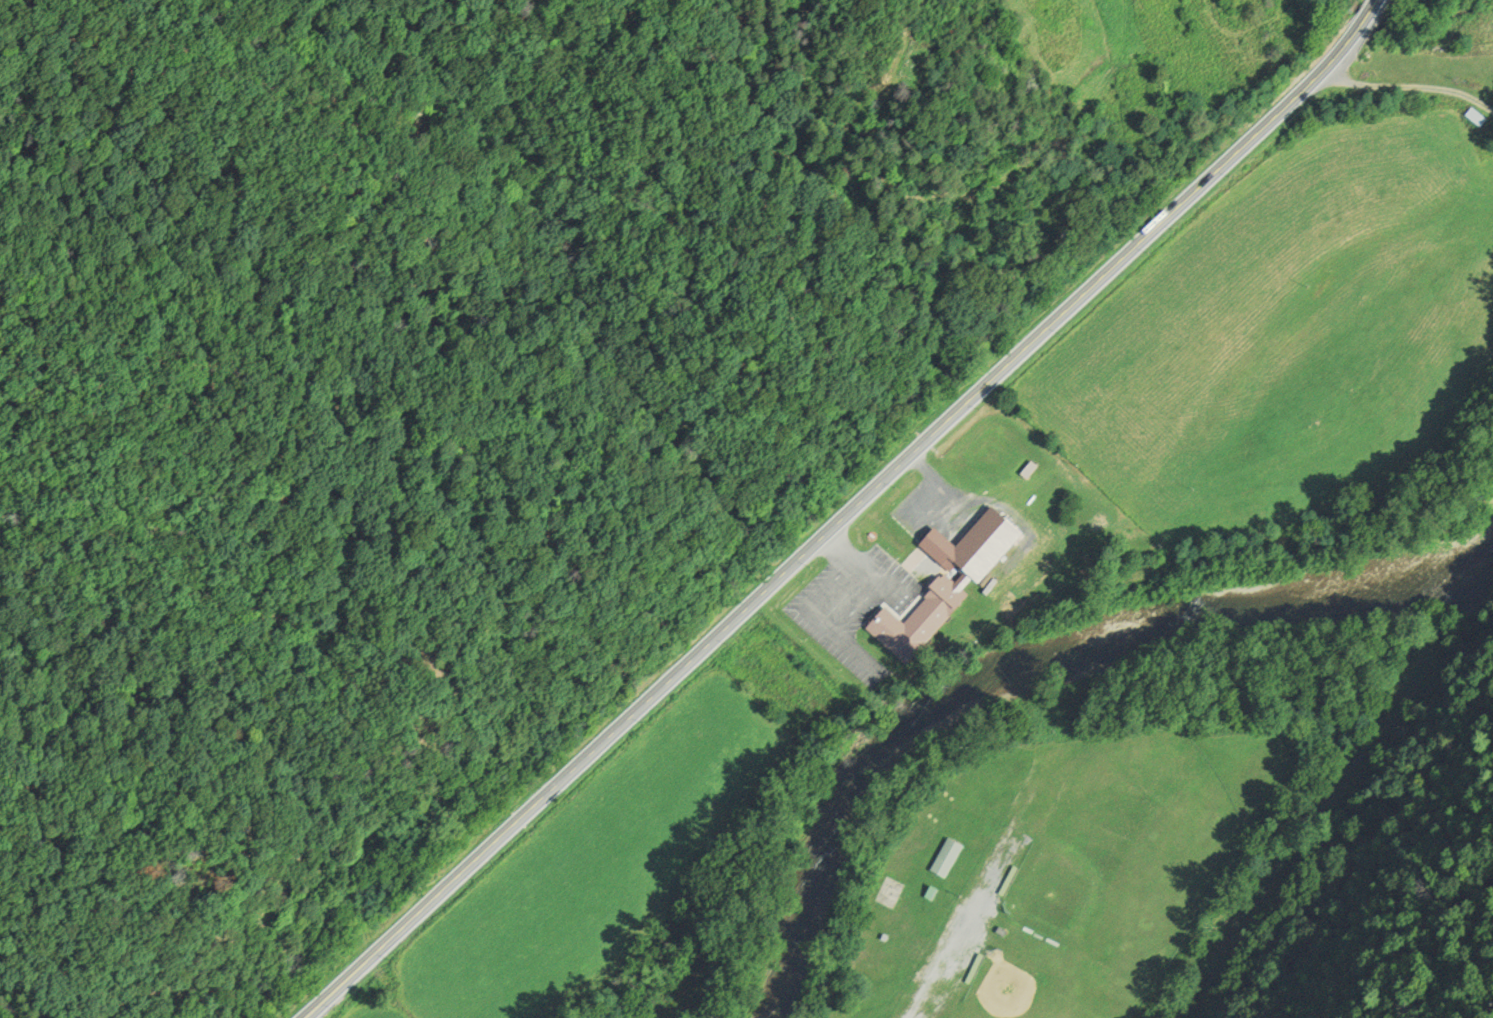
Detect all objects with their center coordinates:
park: (1157, 71)
road: (1411, 88)
building: (1476, 117)
road: (910, 460)
building: (1012, 476)
road: (950, 486)
road: (853, 563)
parking lot: (854, 602)
building: (917, 620)
road: (819, 622)
river: (1039, 642)
road: (857, 654)
building: (946, 860)
park: (1111, 873)
building: (1008, 882)
park: (1046, 883)
building: (932, 895)
building: (1017, 927)
road: (955, 933)
building: (1001, 933)
building: (1028, 933)
building: (1040, 938)
building: (885, 939)
road: (368, 964)
building: (974, 971)
park: (1019, 994)

